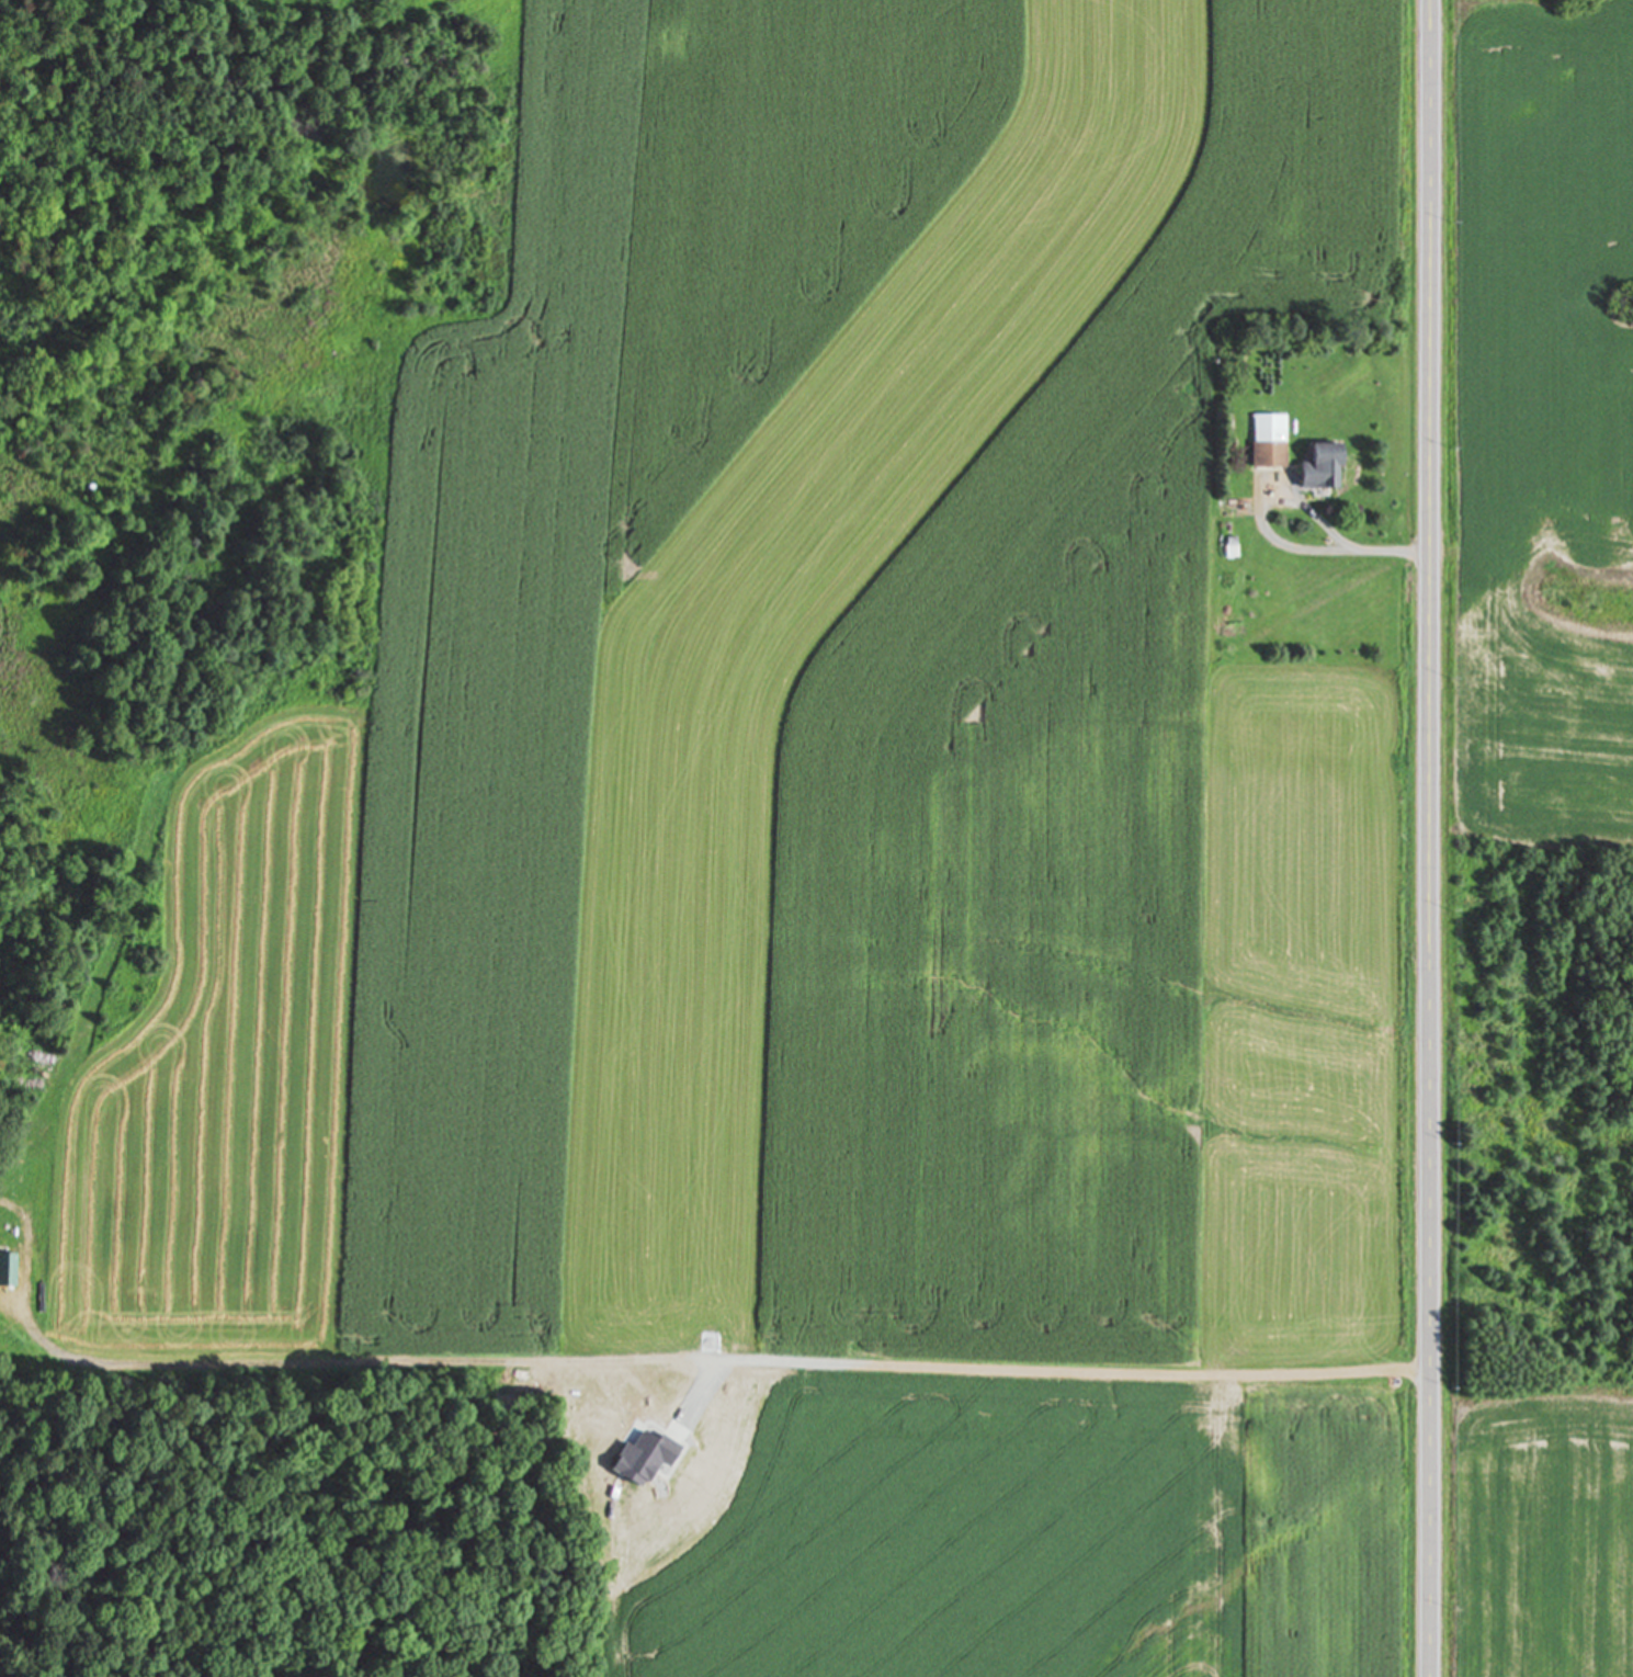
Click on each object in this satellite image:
building: (1266, 449)
building: (1316, 467)
building: (1228, 543)
road: (1430, 838)
building: (5, 1271)

